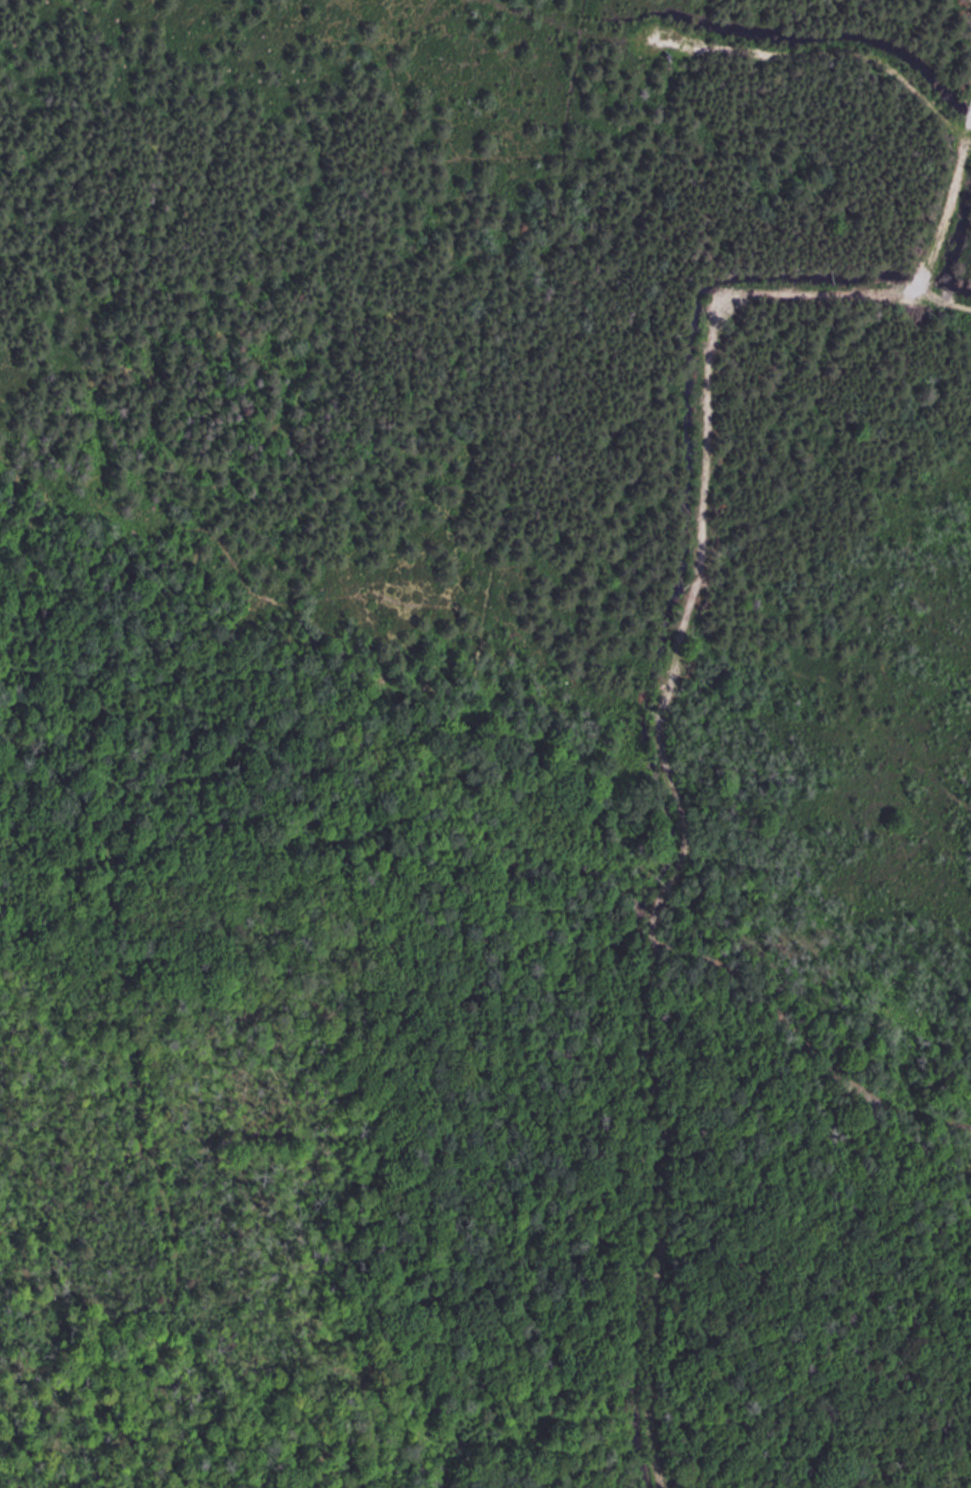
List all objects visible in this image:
road: (937, 226)
road: (710, 386)

